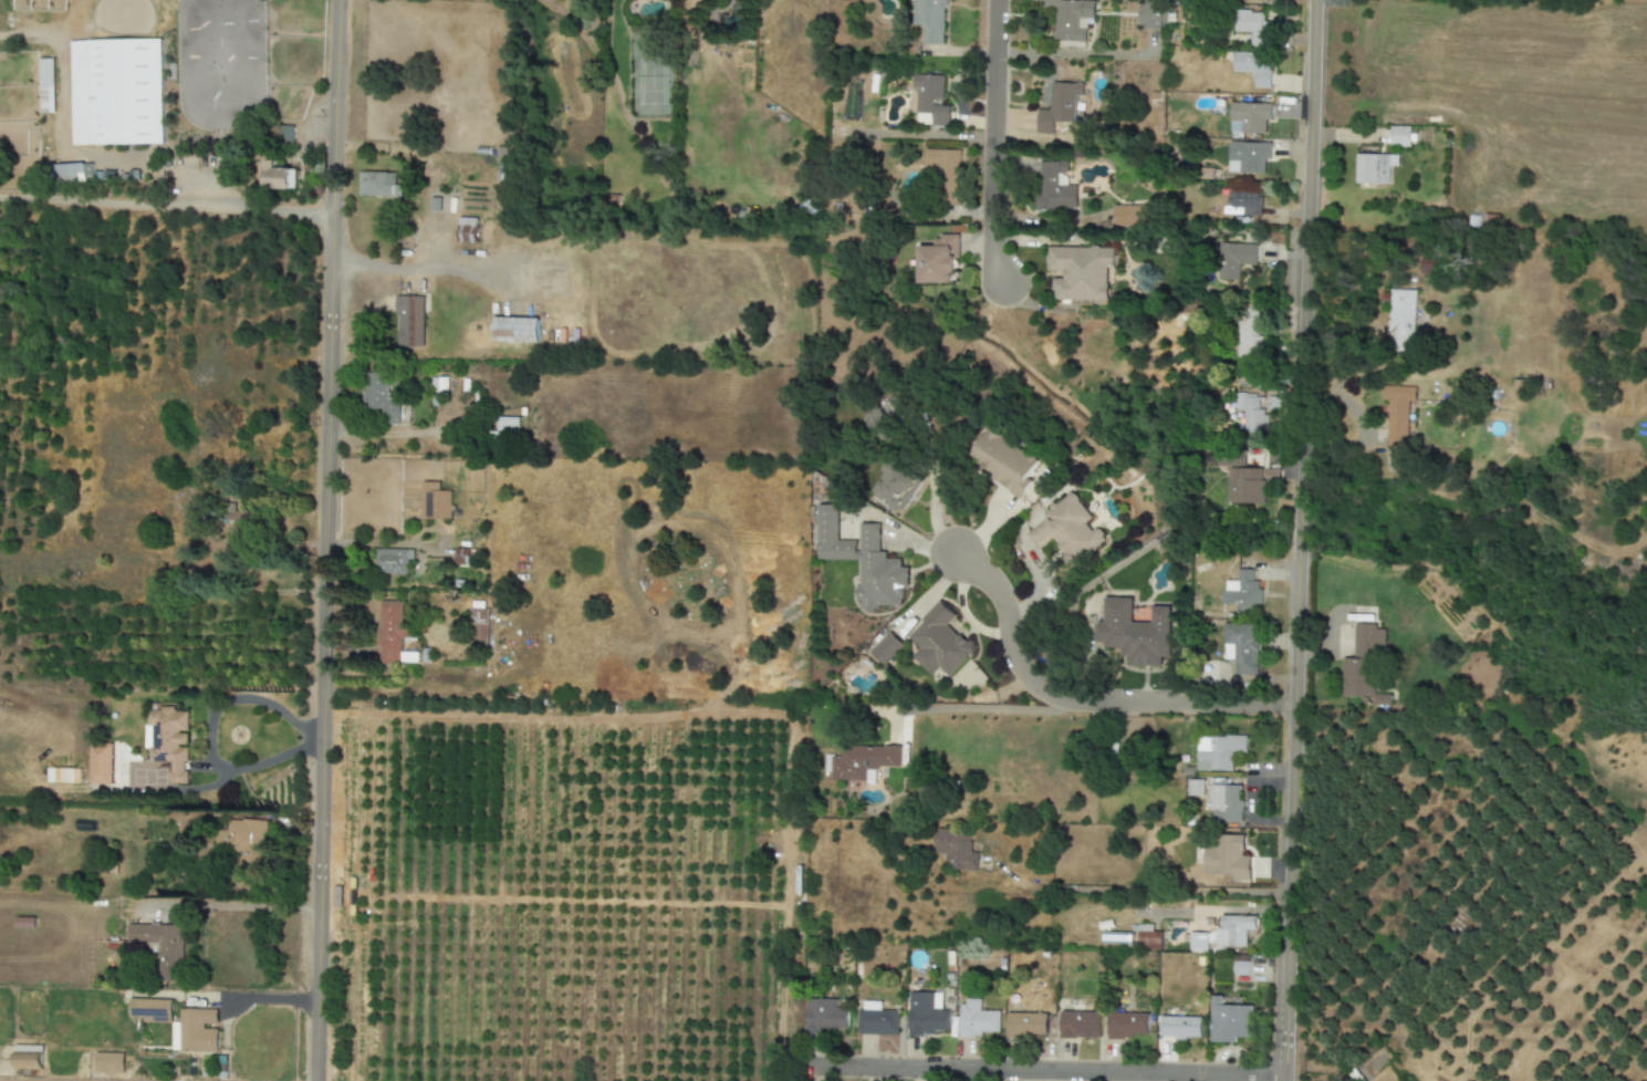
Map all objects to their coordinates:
building: (1261, 0)
building: (1151, 14)
building: (1070, 19)
building: (929, 20)
building: (1252, 27)
road: (1075, 54)
building: (1254, 66)
building: (45, 85)
building: (116, 92)
building: (930, 101)
building: (1059, 106)
building: (1249, 117)
building: (1400, 136)
road: (991, 145)
building: (1247, 156)
building: (941, 165)
building: (1374, 168)
building: (73, 173)
building: (279, 177)
building: (378, 185)
building: (1054, 187)
road: (24, 197)
road: (190, 201)
building: (1242, 204)
building: (1130, 216)
building: (468, 230)
building: (1234, 259)
building: (938, 261)
road: (417, 268)
building: (1081, 272)
building: (1401, 320)
building: (409, 321)
building: (515, 330)
building: (1249, 332)
building: (381, 397)
building: (1250, 412)
building: (1397, 413)
building: (877, 422)
road: (407, 430)
building: (1003, 461)
building: (1248, 484)
building: (896, 487)
road: (931, 496)
building: (436, 502)
building: (242, 523)
building: (1066, 530)
road: (324, 540)
road: (1299, 540)
building: (393, 561)
building: (868, 562)
building: (1242, 592)
building: (479, 627)
building: (392, 632)
building: (1132, 633)
building: (935, 638)
building: (1241, 646)
building: (1363, 661)
road: (1085, 700)
road: (984, 707)
road: (209, 736)
building: (170, 740)
building: (1218, 752)
building: (867, 759)
building: (101, 762)
building: (63, 776)
building: (1226, 803)
building: (244, 841)
building: (959, 845)
building: (1228, 860)
road: (1146, 893)
road: (241, 905)
building: (1234, 929)
building: (1148, 938)
building: (1198, 942)
building: (163, 947)
building: (1241, 966)
building: (152, 1010)
building: (931, 1014)
building: (828, 1016)
building: (877, 1018)
building: (1083, 1021)
building: (1230, 1021)
building: (982, 1022)
building: (1030, 1026)
building: (1128, 1026)
building: (1182, 1028)
building: (196, 1031)
building: (28, 1057)
building: (108, 1063)
road: (1045, 1072)

